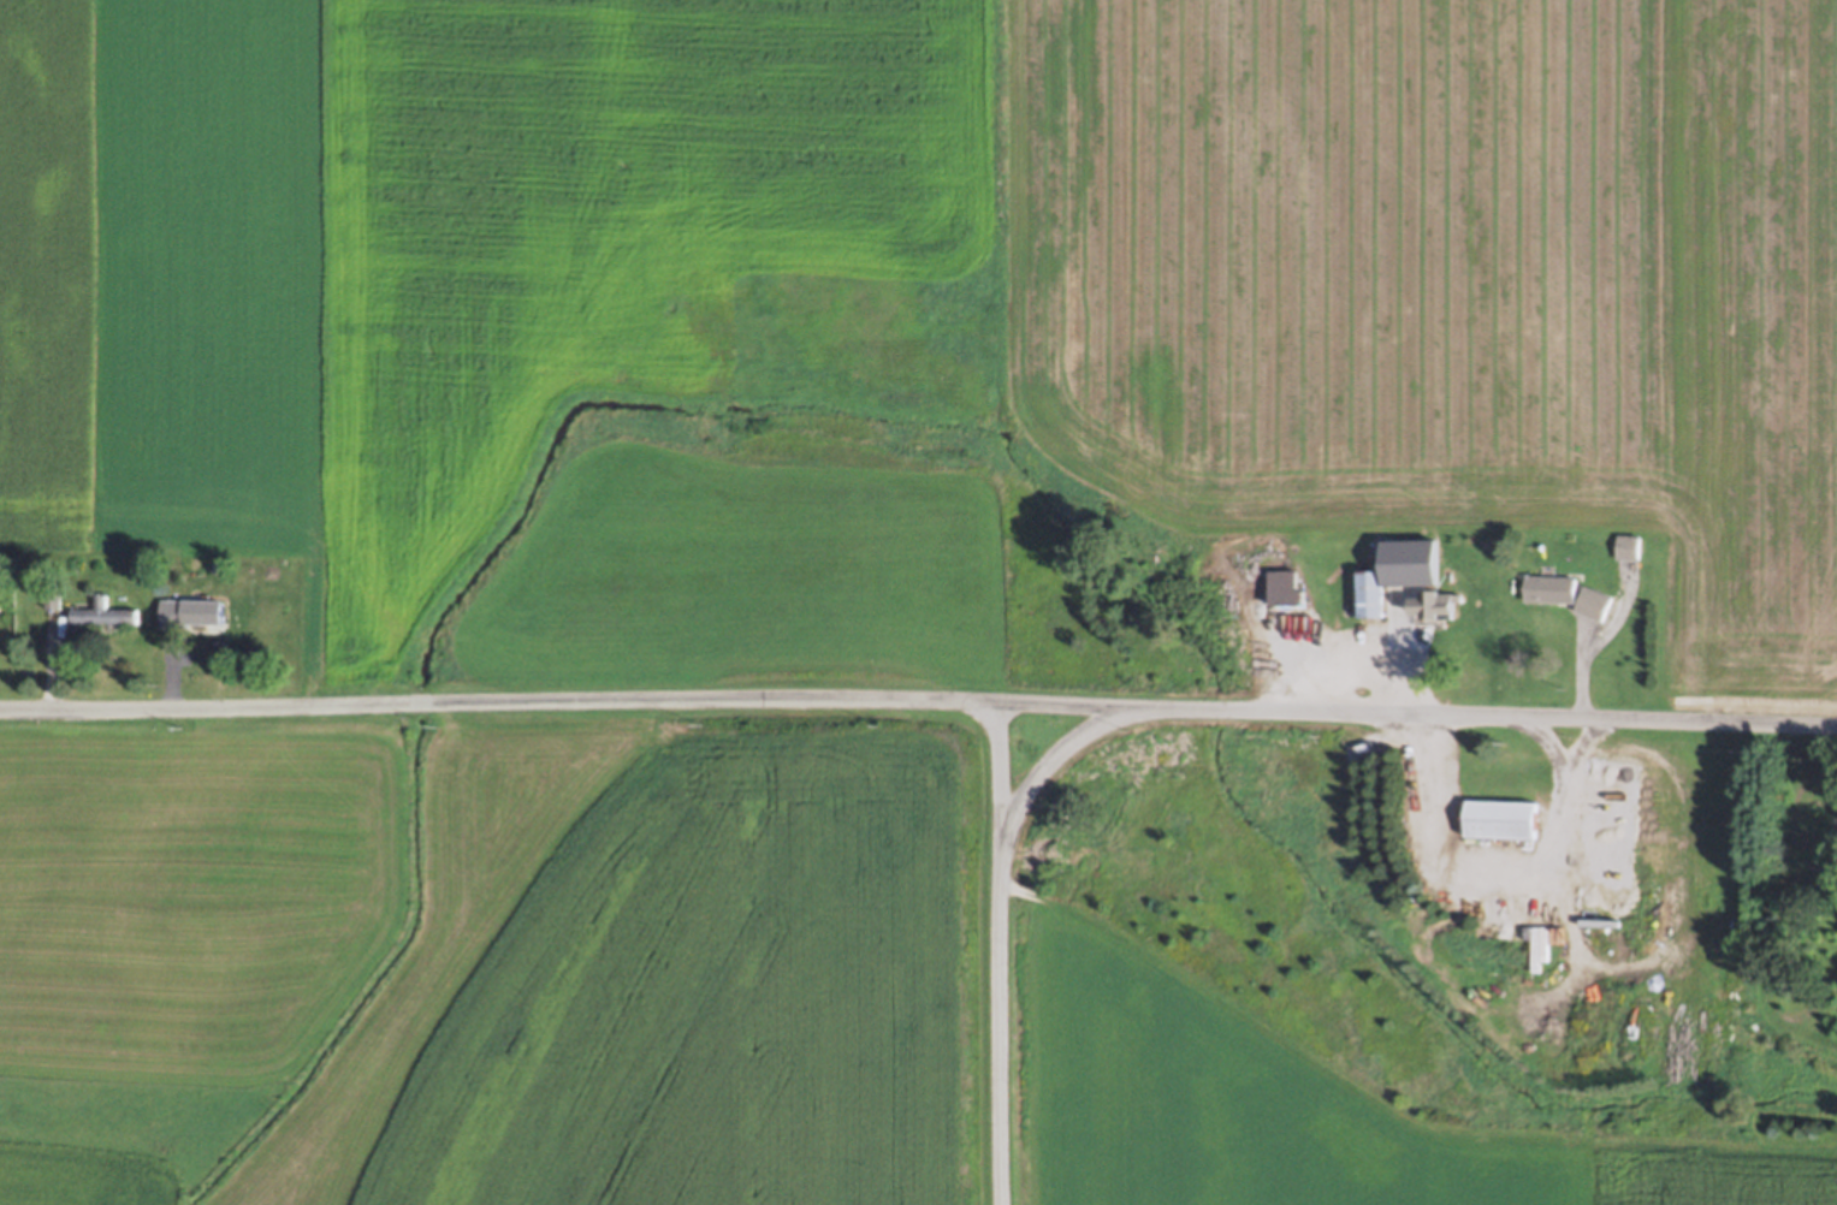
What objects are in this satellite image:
building: (1629, 548)
building: (1404, 576)
building: (1554, 592)
building: (1599, 606)
building: (1438, 609)
building: (2, 615)
building: (198, 616)
building: (107, 617)
building: (1375, 635)
road: (918, 724)
road: (1053, 773)
building: (1505, 821)
building: (1506, 856)
road: (1002, 964)

